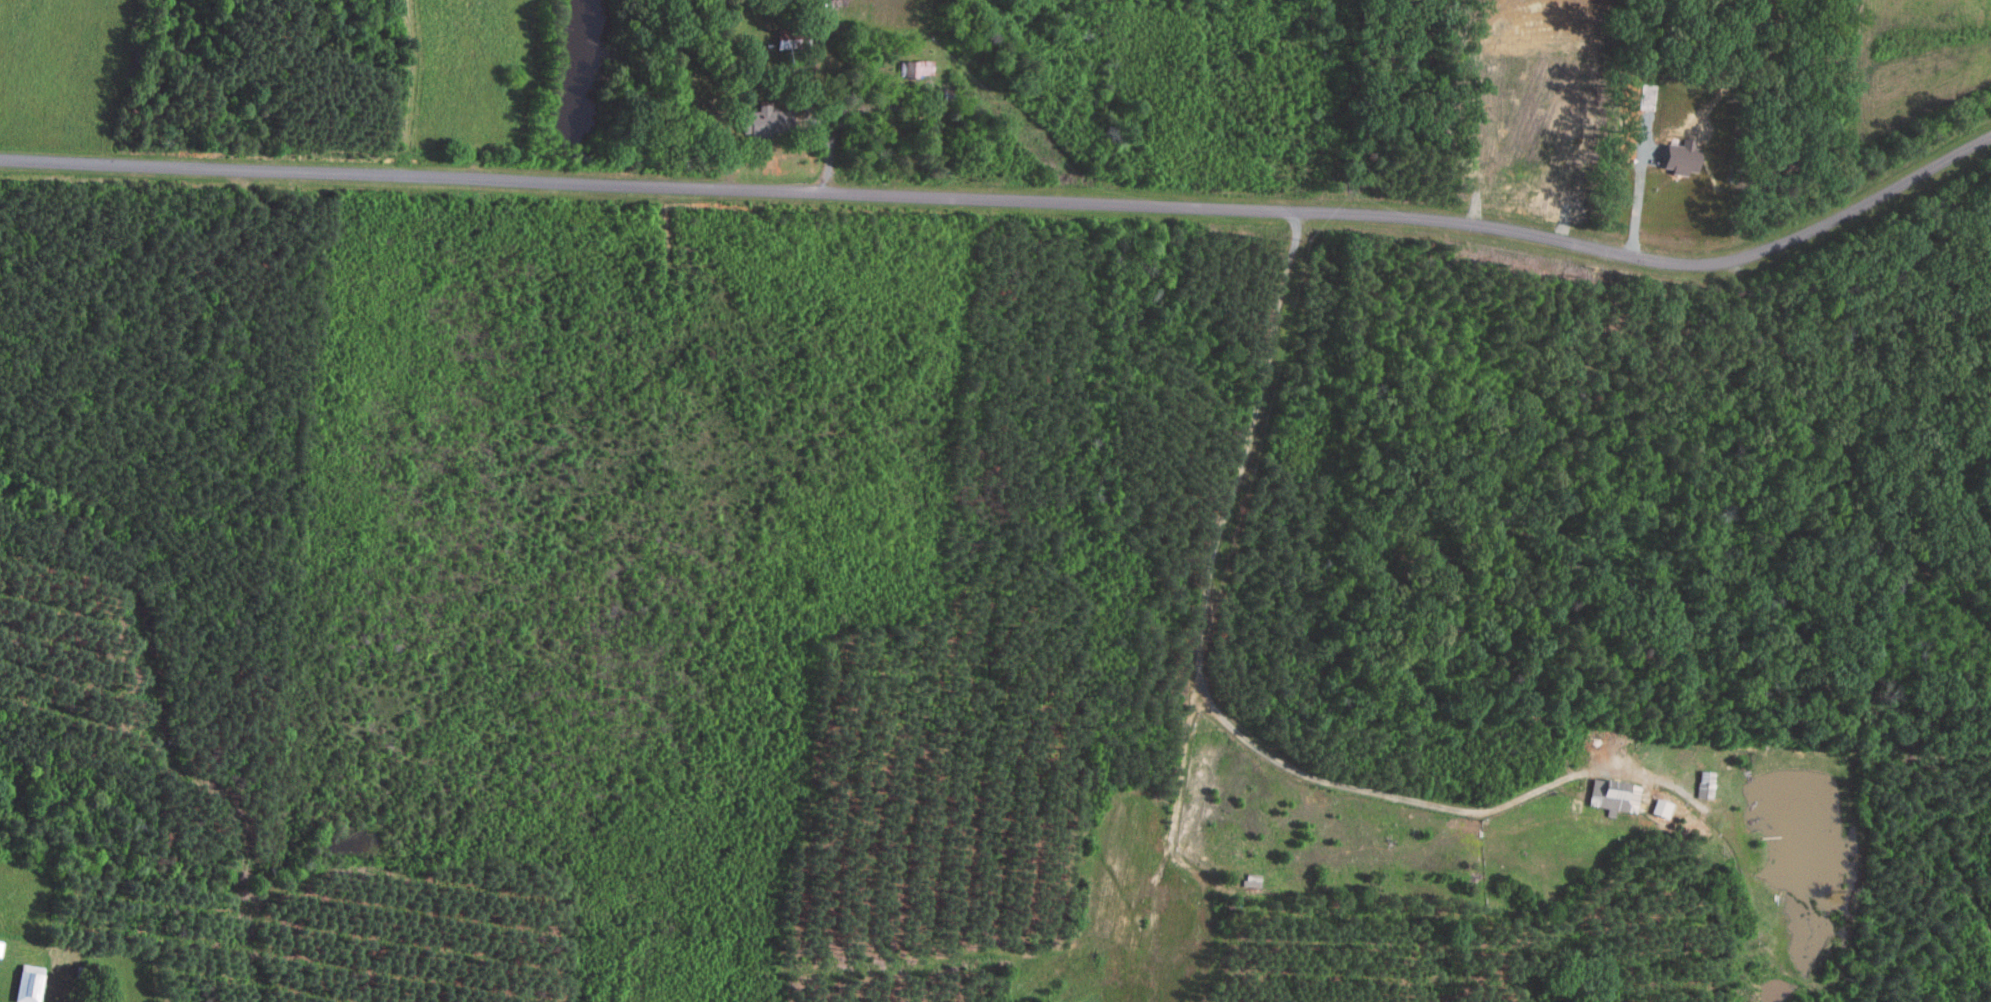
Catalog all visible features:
road: (1012, 200)
road: (1203, 674)
road: (1178, 795)
building: (1617, 796)
building: (1664, 807)
building: (2, 948)
building: (32, 986)

